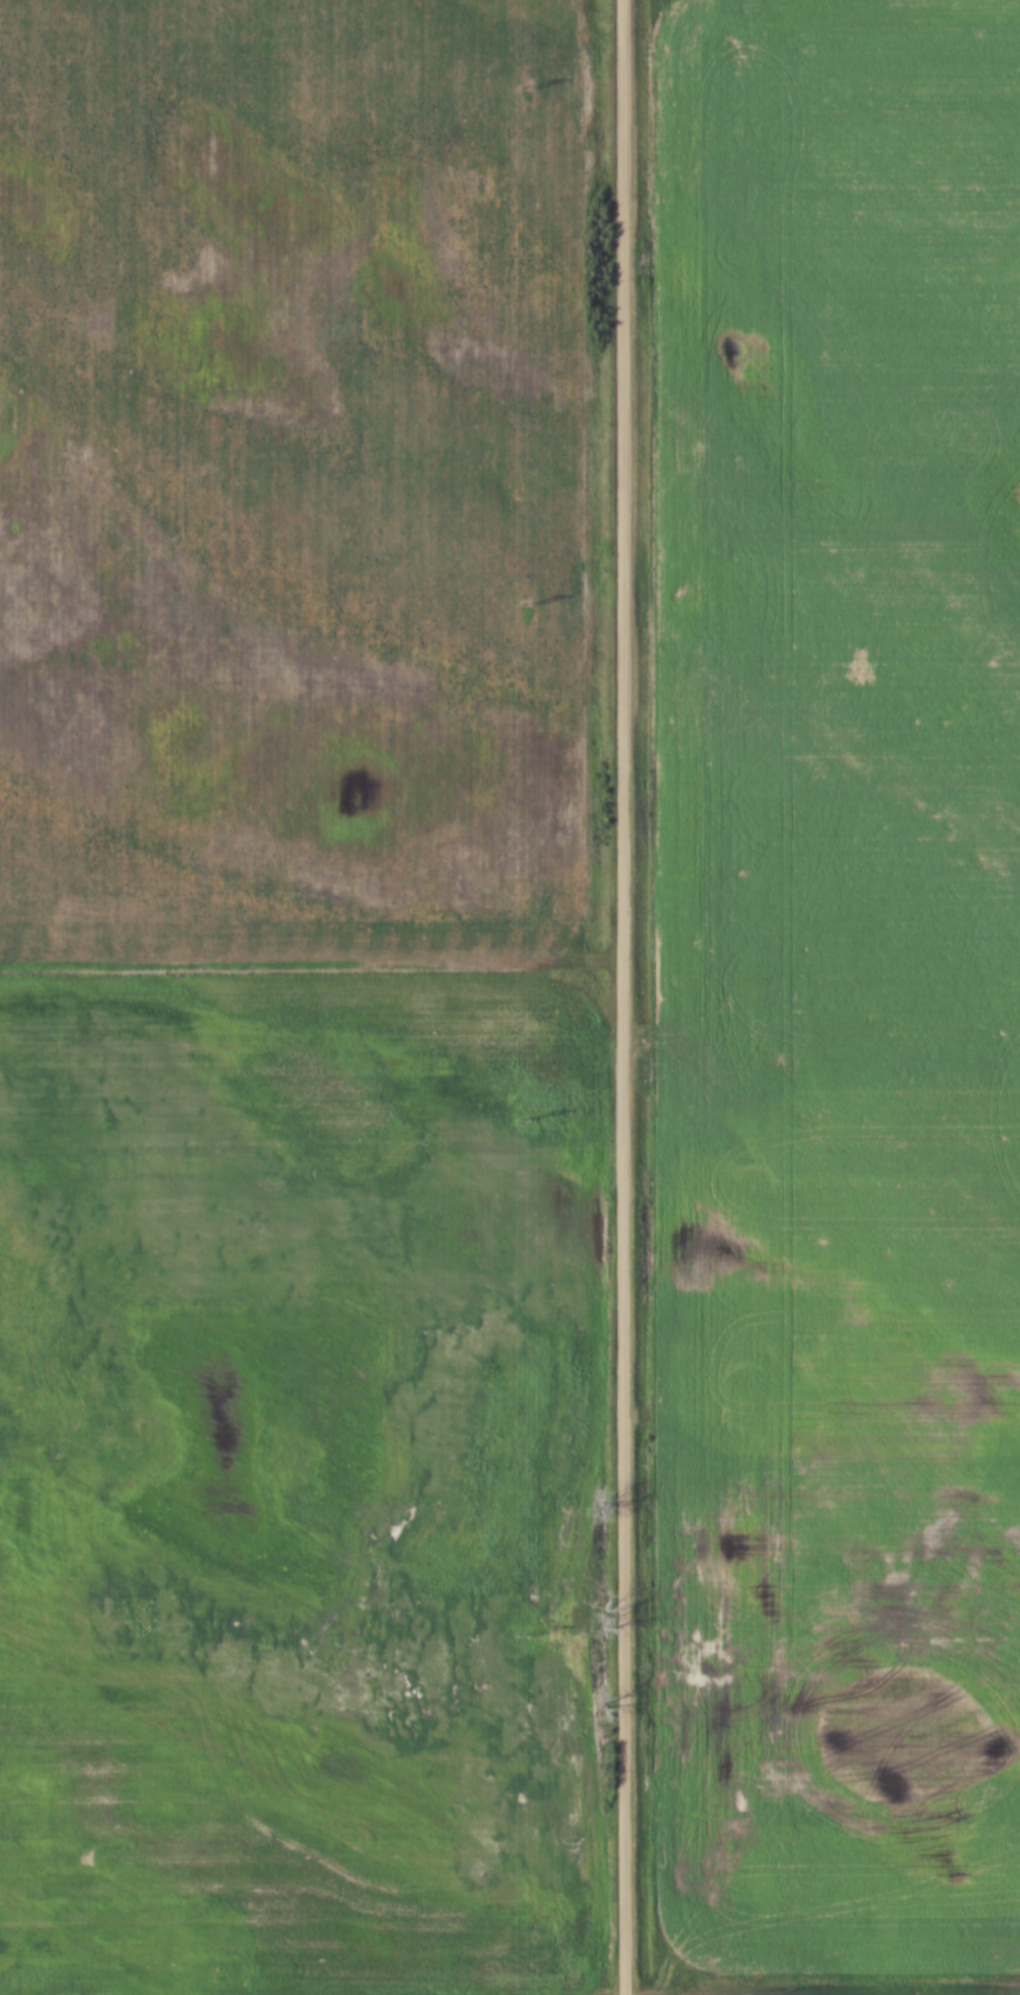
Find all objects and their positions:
power tower: (523, 90)
power tower: (525, 605)
road: (622, 997)
power tower: (525, 1116)
power tower: (524, 1637)
road: (510, 1990)

